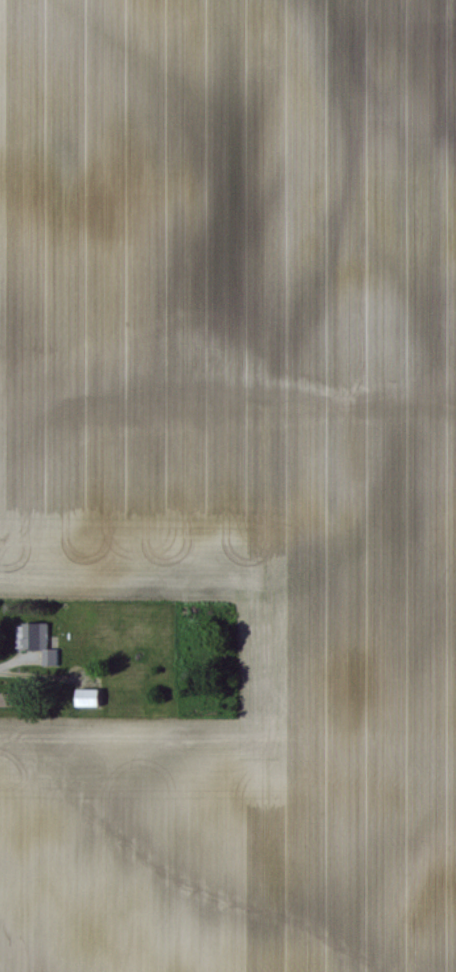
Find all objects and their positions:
building: (34, 639)
road: (11, 665)
building: (85, 697)

